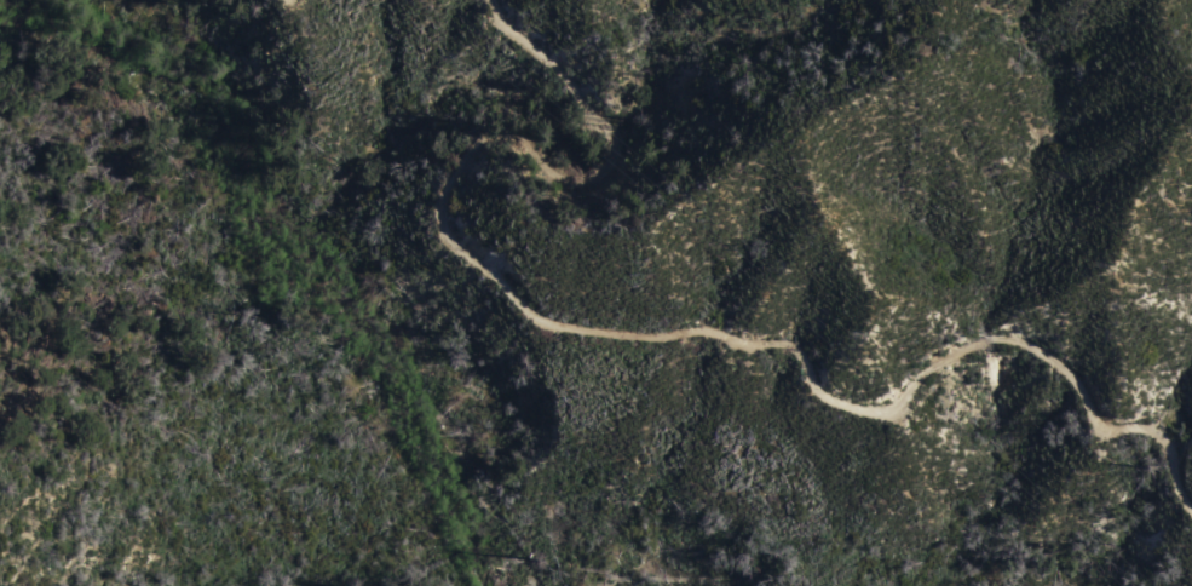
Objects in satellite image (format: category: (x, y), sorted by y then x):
road: (661, 339)
road: (86, 441)

